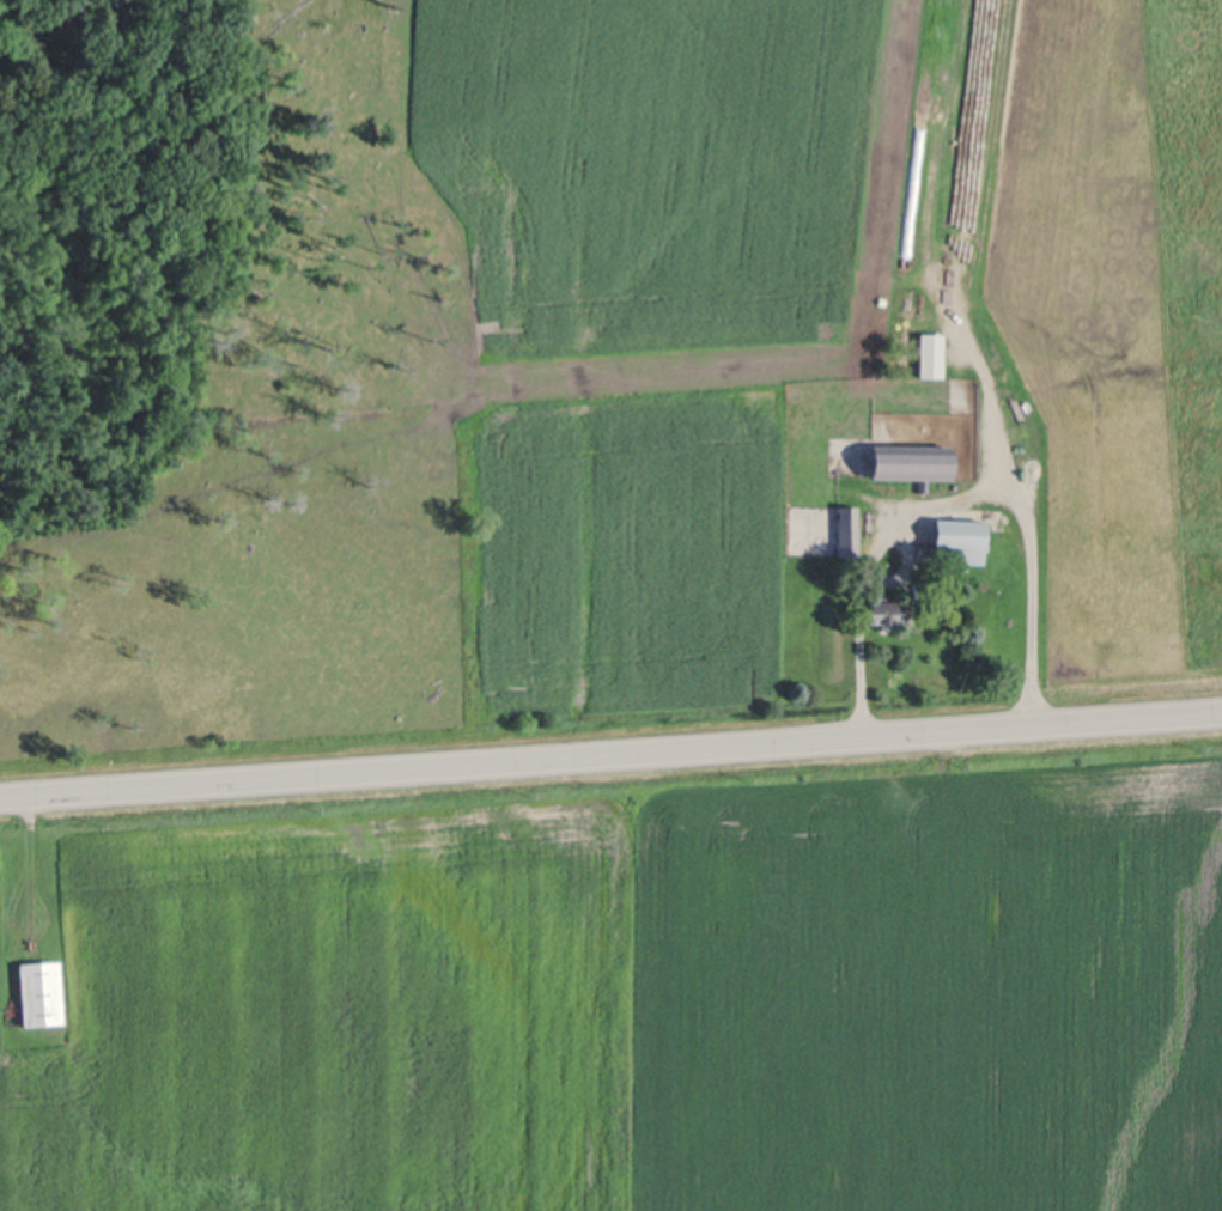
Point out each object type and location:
building: (912, 308)
crop: (807, 318)
building: (925, 355)
building: (901, 463)
road: (957, 503)
building: (845, 533)
building: (950, 541)
building: (878, 613)
road: (610, 754)
crop: (630, 985)
building: (37, 993)

